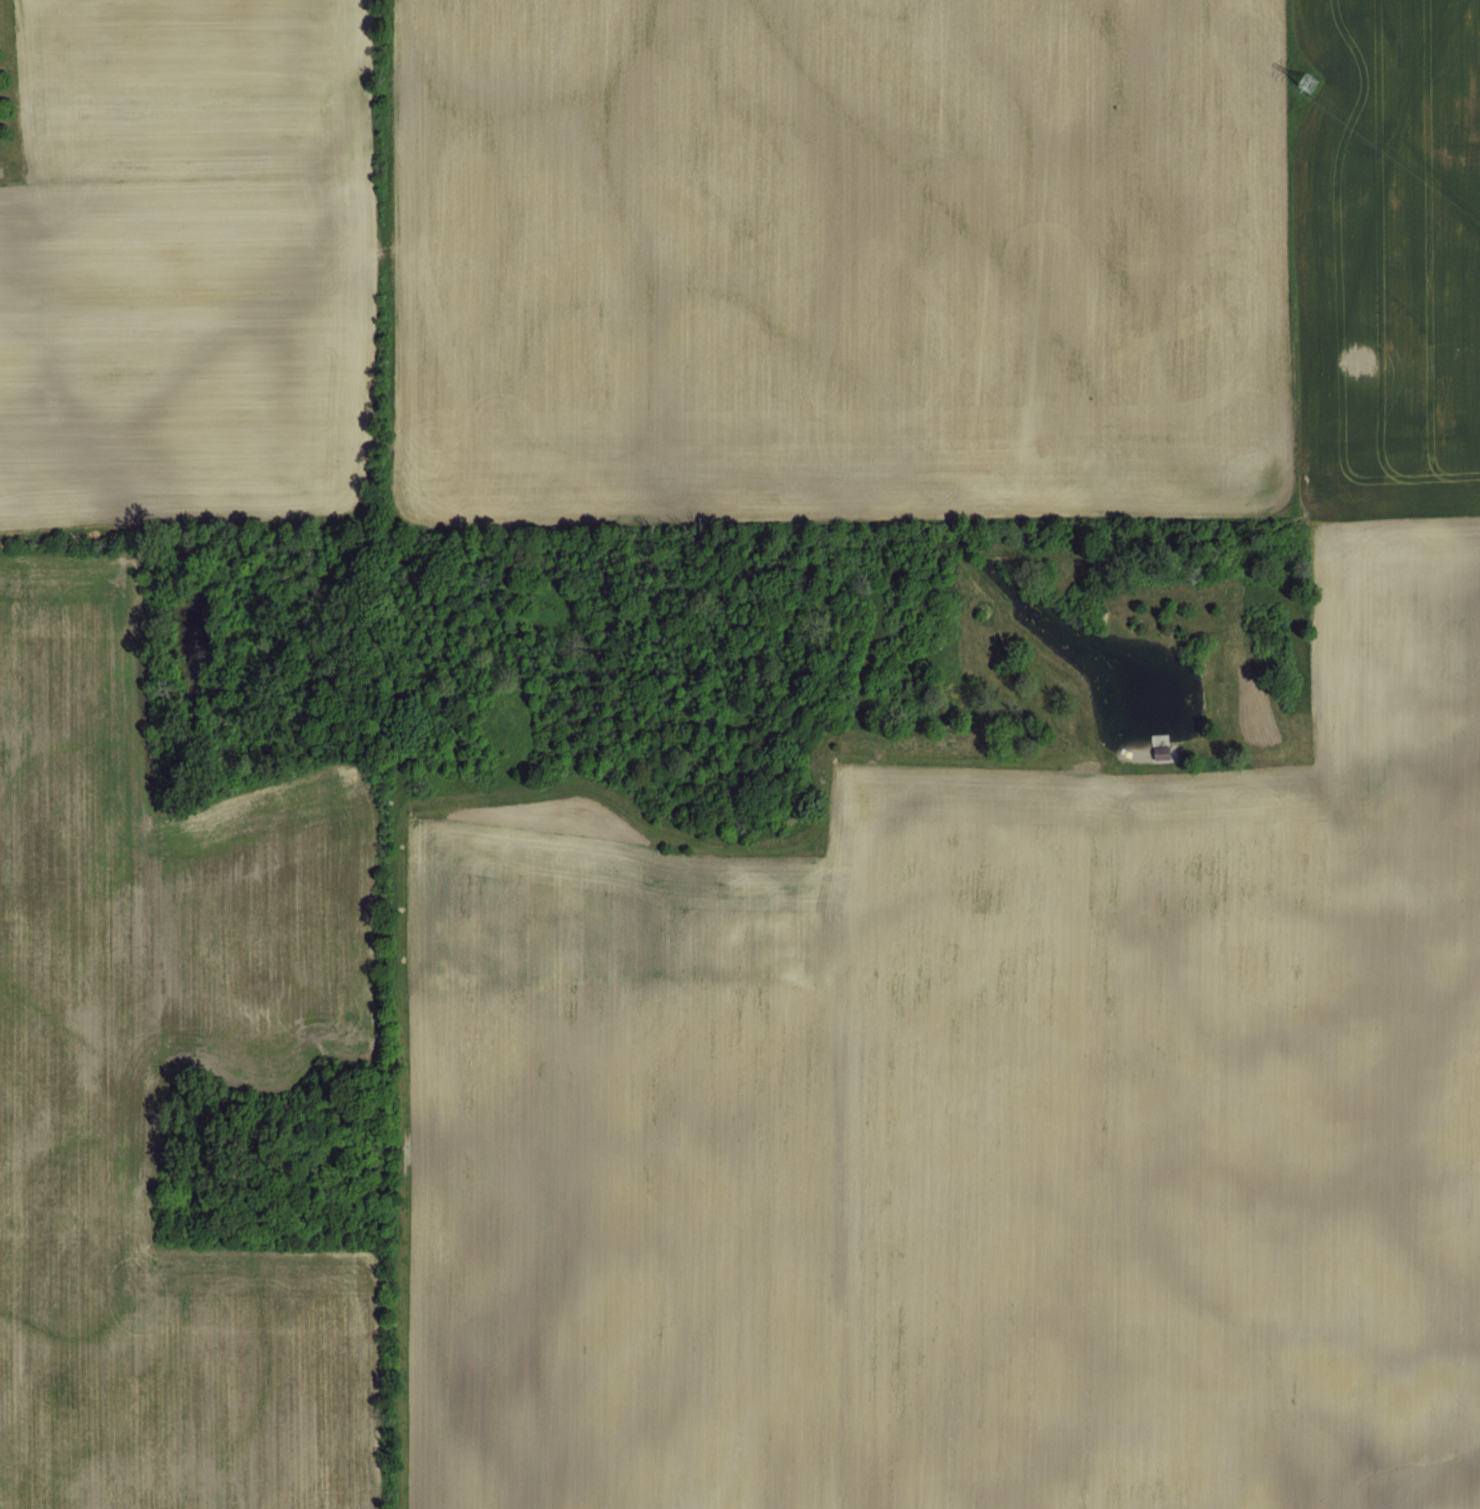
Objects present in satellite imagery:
power tower: (1308, 86)

